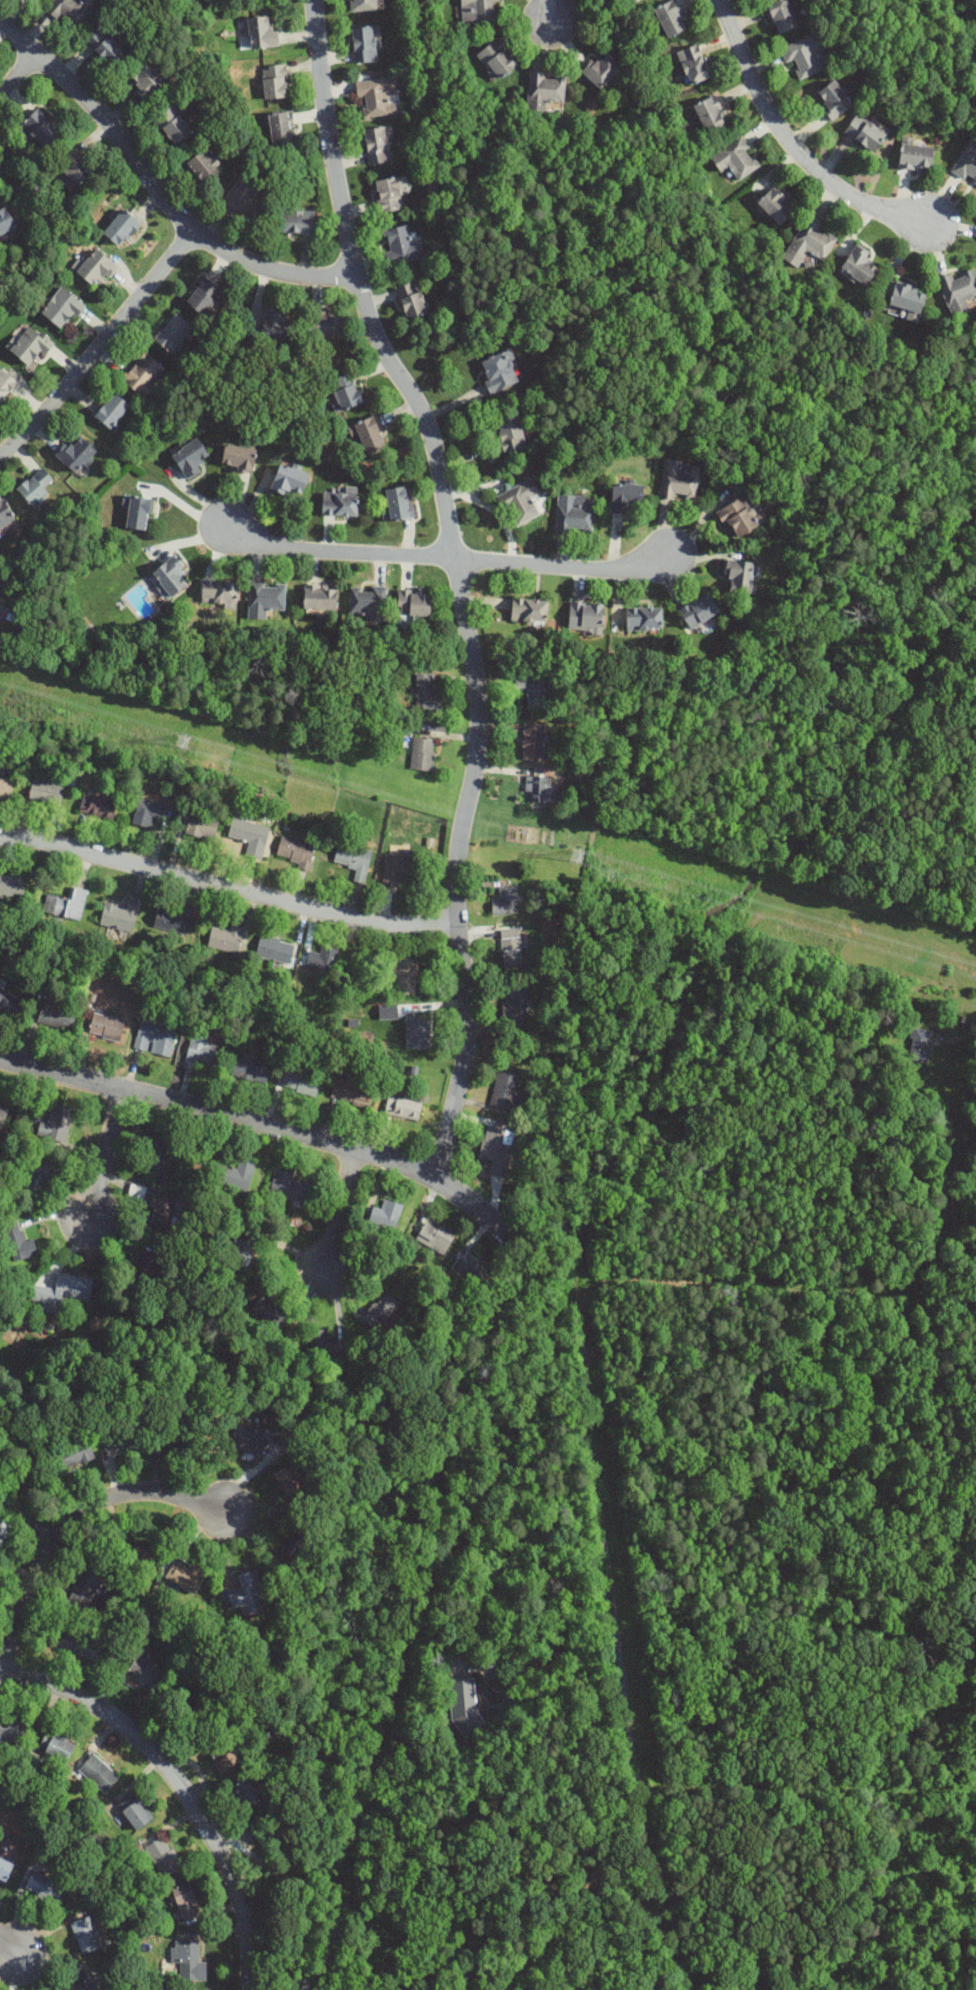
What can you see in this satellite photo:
building: (637, 1)
building: (364, 5)
road: (548, 7)
building: (70, 11)
building: (479, 11)
building: (781, 15)
building: (671, 18)
building: (261, 33)
building: (365, 45)
building: (105, 46)
building: (805, 55)
building: (498, 59)
building: (693, 65)
road: (18, 69)
building: (603, 70)
building: (146, 80)
building: (275, 82)
building: (545, 90)
building: (376, 96)
building: (835, 101)
building: (710, 115)
building: (173, 126)
building: (41, 128)
building: (280, 128)
building: (866, 133)
road: (790, 142)
building: (377, 145)
building: (917, 156)
building: (736, 158)
building: (967, 163)
building: (204, 166)
building: (75, 167)
road: (154, 184)
building: (389, 195)
building: (243, 200)
building: (776, 206)
building: (5, 222)
building: (296, 222)
building: (121, 228)
building: (812, 239)
building: (403, 246)
building: (859, 265)
building: (96, 268)
building: (958, 288)
building: (204, 296)
building: (908, 298)
building: (412, 300)
building: (61, 308)
building: (325, 326)
building: (276, 329)
building: (173, 334)
road: (99, 344)
building: (30, 345)
building: (498, 372)
building: (144, 375)
building: (5, 384)
building: (345, 393)
building: (112, 412)
building: (511, 434)
building: (368, 435)
building: (75, 454)
building: (190, 458)
building: (238, 458)
building: (290, 481)
building: (680, 481)
building: (35, 488)
building: (627, 498)
building: (521, 502)
building: (399, 504)
building: (340, 505)
road: (186, 506)
building: (139, 514)
building: (5, 515)
building: (574, 516)
building: (739, 518)
road: (339, 549)
road: (559, 564)
building: (741, 576)
building: (170, 577)
road: (457, 581)
building: (219, 593)
building: (320, 598)
building: (266, 599)
building: (369, 603)
building: (414, 604)
building: (530, 611)
building: (699, 611)
building: (586, 617)
building: (644, 620)
building: (533, 690)
building: (427, 693)
building: (534, 742)
power tower: (186, 744)
building: (423, 754)
building: (6, 790)
building: (541, 791)
building: (46, 792)
building: (98, 807)
building: (148, 813)
building: (199, 825)
building: (250, 837)
building: (295, 851)
power tower: (579, 858)
building: (354, 859)
building: (399, 868)
building: (12, 885)
road: (227, 886)
building: (506, 900)
building: (67, 905)
building: (121, 915)
building: (172, 922)
building: (226, 938)
building: (511, 947)
building: (275, 949)
building: (323, 959)
building: (406, 975)
building: (9, 1002)
building: (516, 1003)
building: (56, 1012)
building: (107, 1026)
building: (417, 1031)
building: (155, 1039)
building: (921, 1045)
building: (202, 1051)
building: (252, 1069)
building: (301, 1081)
building: (505, 1089)
building: (353, 1092)
building: (403, 1108)
building: (3, 1116)
building: (57, 1123)
road: (262, 1126)
building: (496, 1147)
building: (157, 1148)
road: (960, 1150)
road: (104, 1157)
building: (236, 1174)
building: (36, 1176)
building: (291, 1186)
building: (156, 1203)
road: (338, 1213)
building: (387, 1214)
road: (563, 1227)
road: (534, 1230)
building: (435, 1238)
building: (19, 1242)
road: (568, 1252)
building: (243, 1256)
building: (144, 1267)
building: (472, 1268)
building: (62, 1292)
building: (383, 1310)
building: (270, 1314)
building: (322, 1343)
building: (124, 1437)
building: (251, 1438)
building: (175, 1439)
building: (73, 1455)
building: (291, 1476)
building: (22, 1480)
road: (70, 1518)
building: (5, 1530)
building: (300, 1543)
building: (140, 1555)
building: (181, 1575)
building: (86, 1587)
building: (248, 1594)
road: (614, 1633)
building: (79, 1645)
road: (550, 1650)
road: (2, 1666)
building: (146, 1673)
building: (465, 1706)
building: (14, 1733)
building: (59, 1747)
building: (223, 1758)
building: (99, 1773)
road: (179, 1788)
building: (245, 1794)
building: (135, 1812)
building: (275, 1835)
building: (163, 1856)
building: (5, 1868)
building: (45, 1887)
building: (186, 1902)
building: (86, 1934)
road: (9, 1944)
road: (549, 1957)
building: (188, 1960)
building: (86, 1982)
road: (631, 1989)

